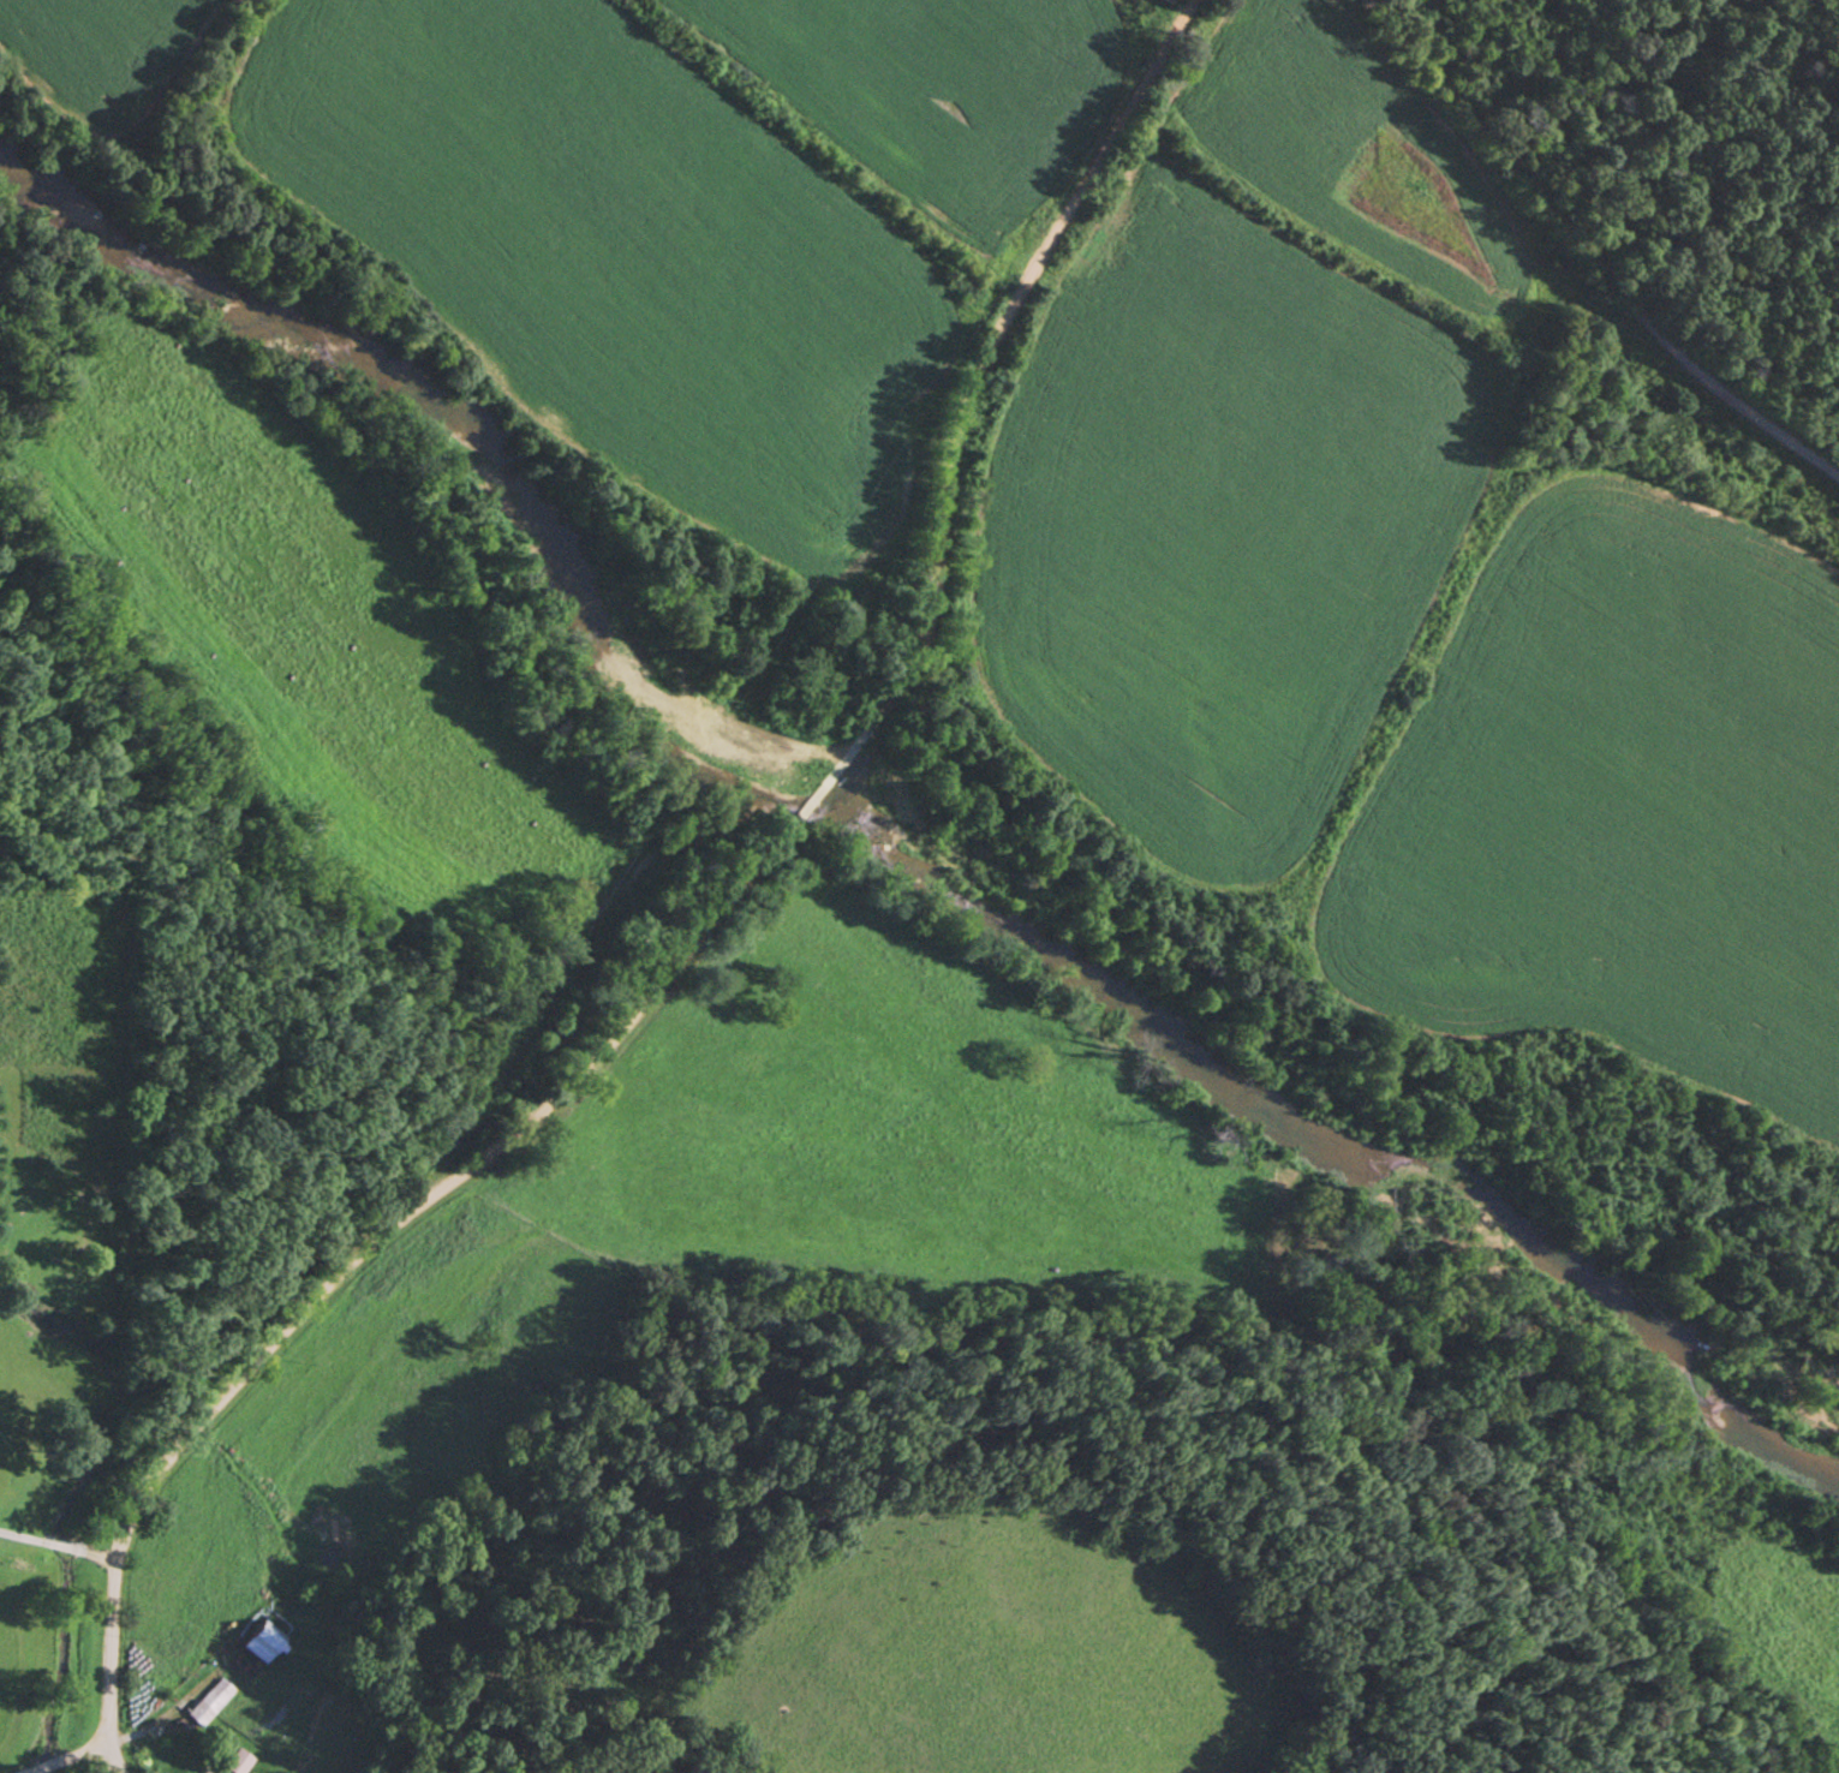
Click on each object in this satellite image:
building: (1165, 1)
road: (1586, 250)
road: (989, 348)
road: (831, 778)
road: (334, 1265)
road: (64, 1544)
building: (265, 1641)
building: (214, 1701)
road: (114, 1755)
building: (238, 1761)

